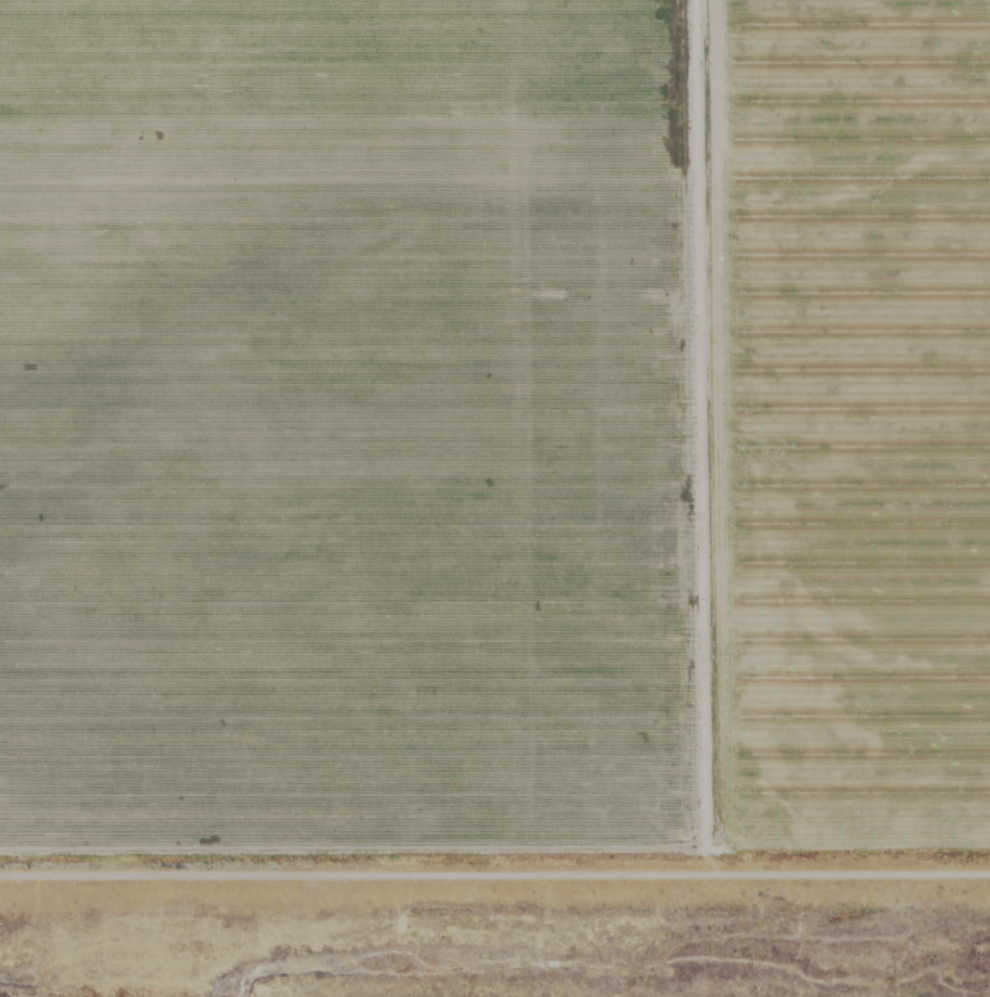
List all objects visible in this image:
crop: (494, 435)

